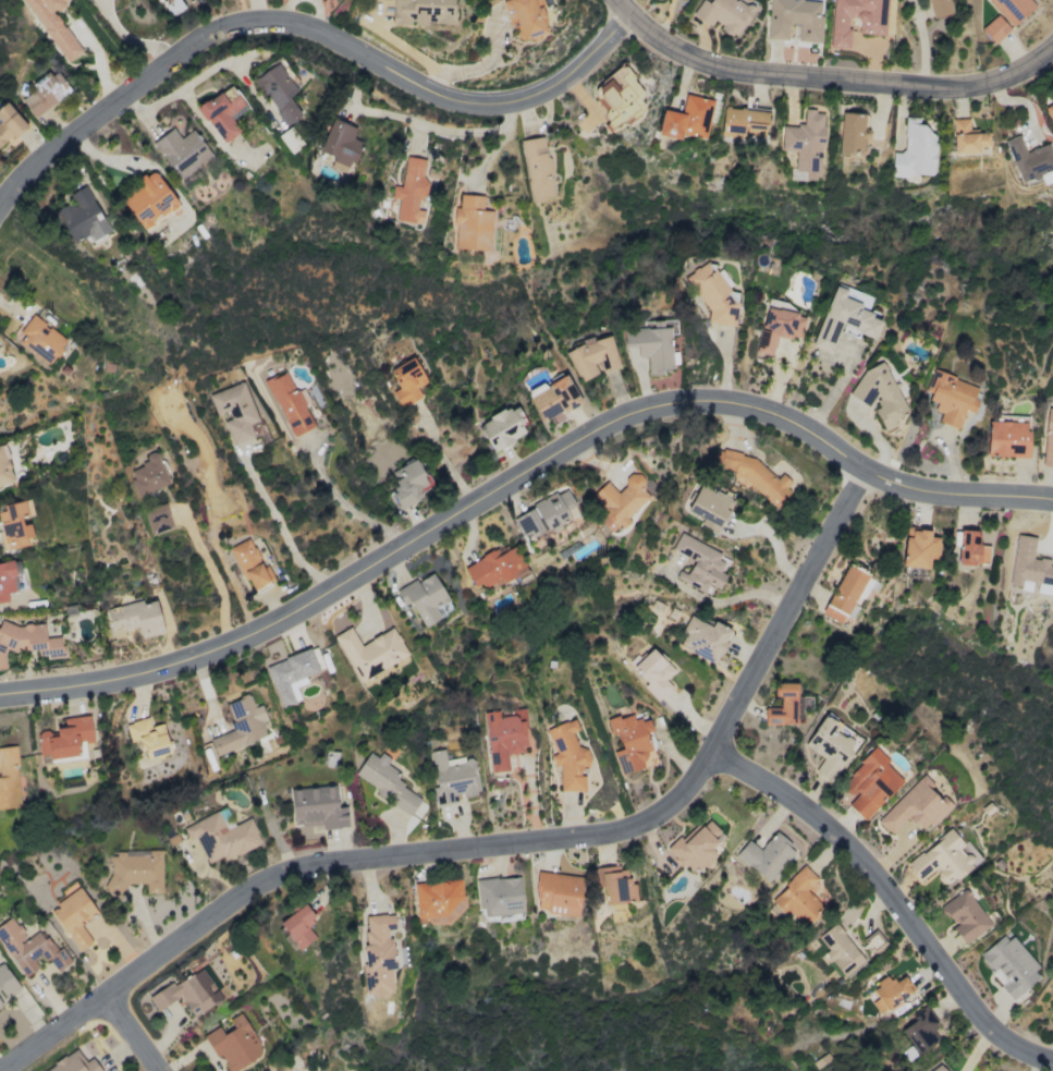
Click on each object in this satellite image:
building: (172, 7)
building: (938, 8)
building: (1012, 9)
building: (421, 12)
building: (724, 14)
building: (526, 19)
building: (795, 20)
building: (53, 25)
building: (871, 26)
road: (306, 29)
building: (994, 29)
road: (130, 37)
road: (829, 78)
building: (278, 92)
building: (45, 94)
building: (620, 97)
building: (222, 112)
building: (1050, 112)
building: (686, 119)
building: (742, 123)
building: (9, 124)
building: (801, 130)
building: (340, 131)
building: (850, 133)
building: (967, 137)
road: (445, 138)
building: (177, 145)
building: (915, 151)
building: (1029, 159)
building: (537, 168)
building: (409, 192)
building: (148, 200)
building: (82, 217)
building: (472, 224)
building: (713, 294)
building: (784, 321)
building: (41, 340)
building: (651, 346)
building: (592, 357)
building: (407, 381)
road: (838, 390)
building: (879, 395)
building: (553, 398)
building: (289, 403)
building: (234, 412)
building: (500, 429)
building: (1007, 438)
building: (1048, 439)
road: (442, 460)
building: (3, 471)
building: (750, 474)
building: (148, 475)
road: (521, 478)
building: (408, 484)
building: (620, 501)
road: (344, 504)
building: (709, 504)
building: (547, 513)
building: (157, 519)
building: (15, 525)
road: (280, 528)
building: (918, 548)
building: (970, 549)
building: (243, 553)
building: (700, 559)
building: (1026, 562)
building: (493, 568)
building: (5, 580)
road: (209, 583)
building: (844, 592)
building: (424, 598)
road: (728, 600)
building: (135, 619)
building: (696, 633)
building: (24, 640)
building: (368, 653)
building: (653, 673)
building: (290, 676)
building: (783, 705)
building: (249, 716)
building: (65, 738)
building: (148, 738)
building: (504, 738)
building: (836, 742)
building: (630, 743)
building: (567, 757)
building: (452, 777)
building: (383, 778)
building: (9, 779)
building: (870, 783)
building: (910, 806)
building: (316, 807)
building: (224, 836)
building: (699, 838)
road: (503, 844)
building: (950, 853)
building: (766, 855)
building: (135, 871)
building: (619, 889)
building: (558, 893)
building: (797, 896)
building: (500, 897)
building: (436, 898)
road: (892, 899)
building: (968, 915)
building: (74, 916)
building: (298, 927)
building: (874, 941)
building: (29, 950)
building: (840, 951)
building: (378, 954)
building: (1009, 965)
building: (200, 979)
building: (7, 984)
building: (891, 994)
road: (133, 1031)
building: (920, 1033)
building: (234, 1044)
road: (1031, 1062)
building: (70, 1063)
building: (936, 1069)
building: (265, 1070)

